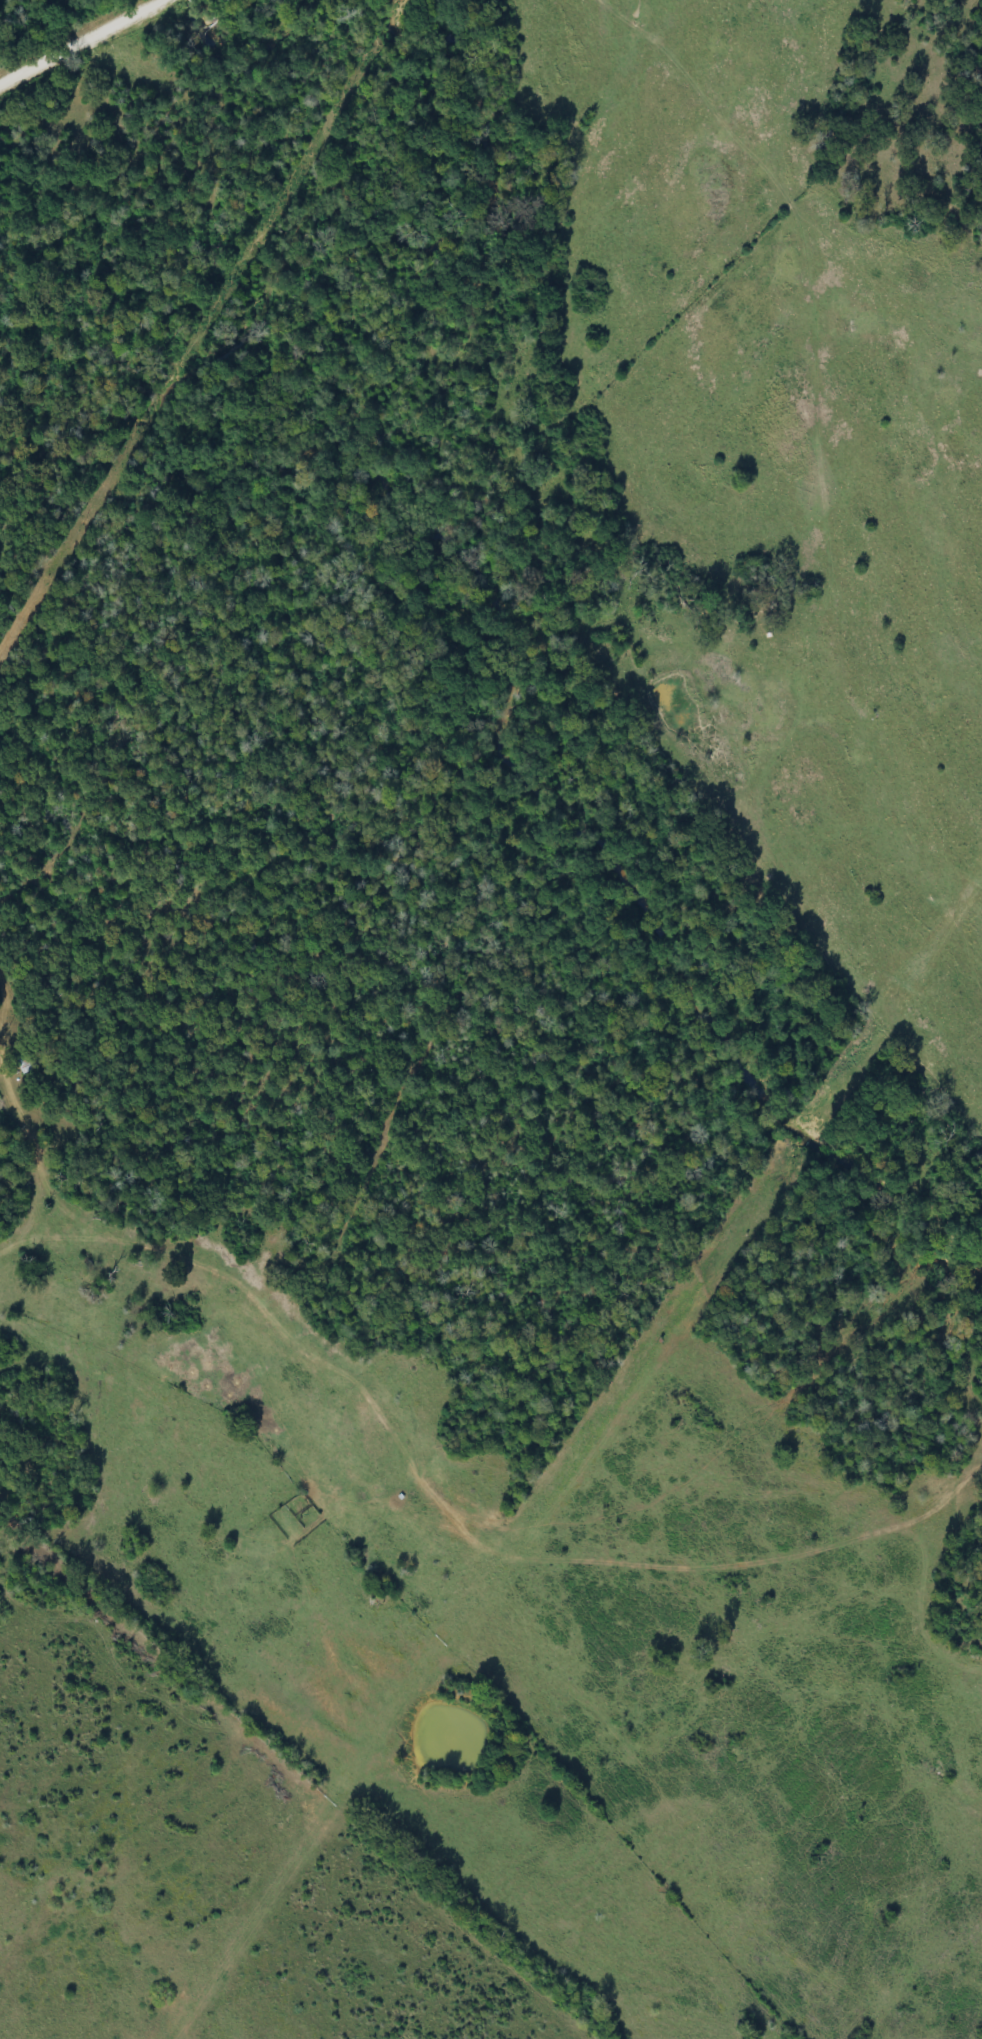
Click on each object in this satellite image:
road: (97, 59)

